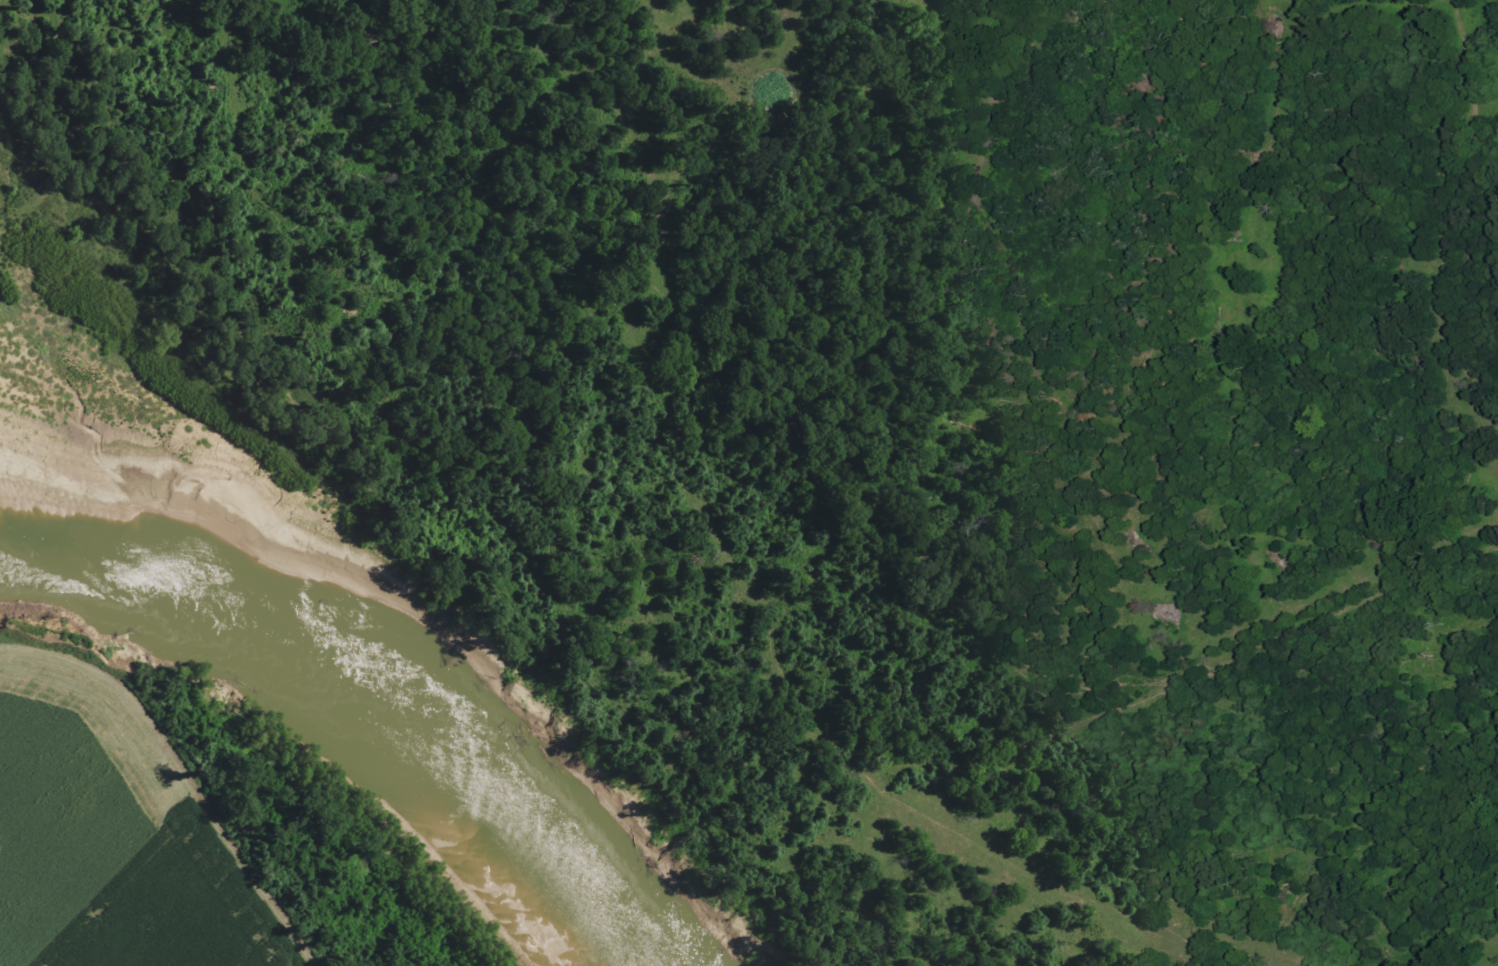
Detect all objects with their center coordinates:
river: (93, 410)
river: (423, 724)

